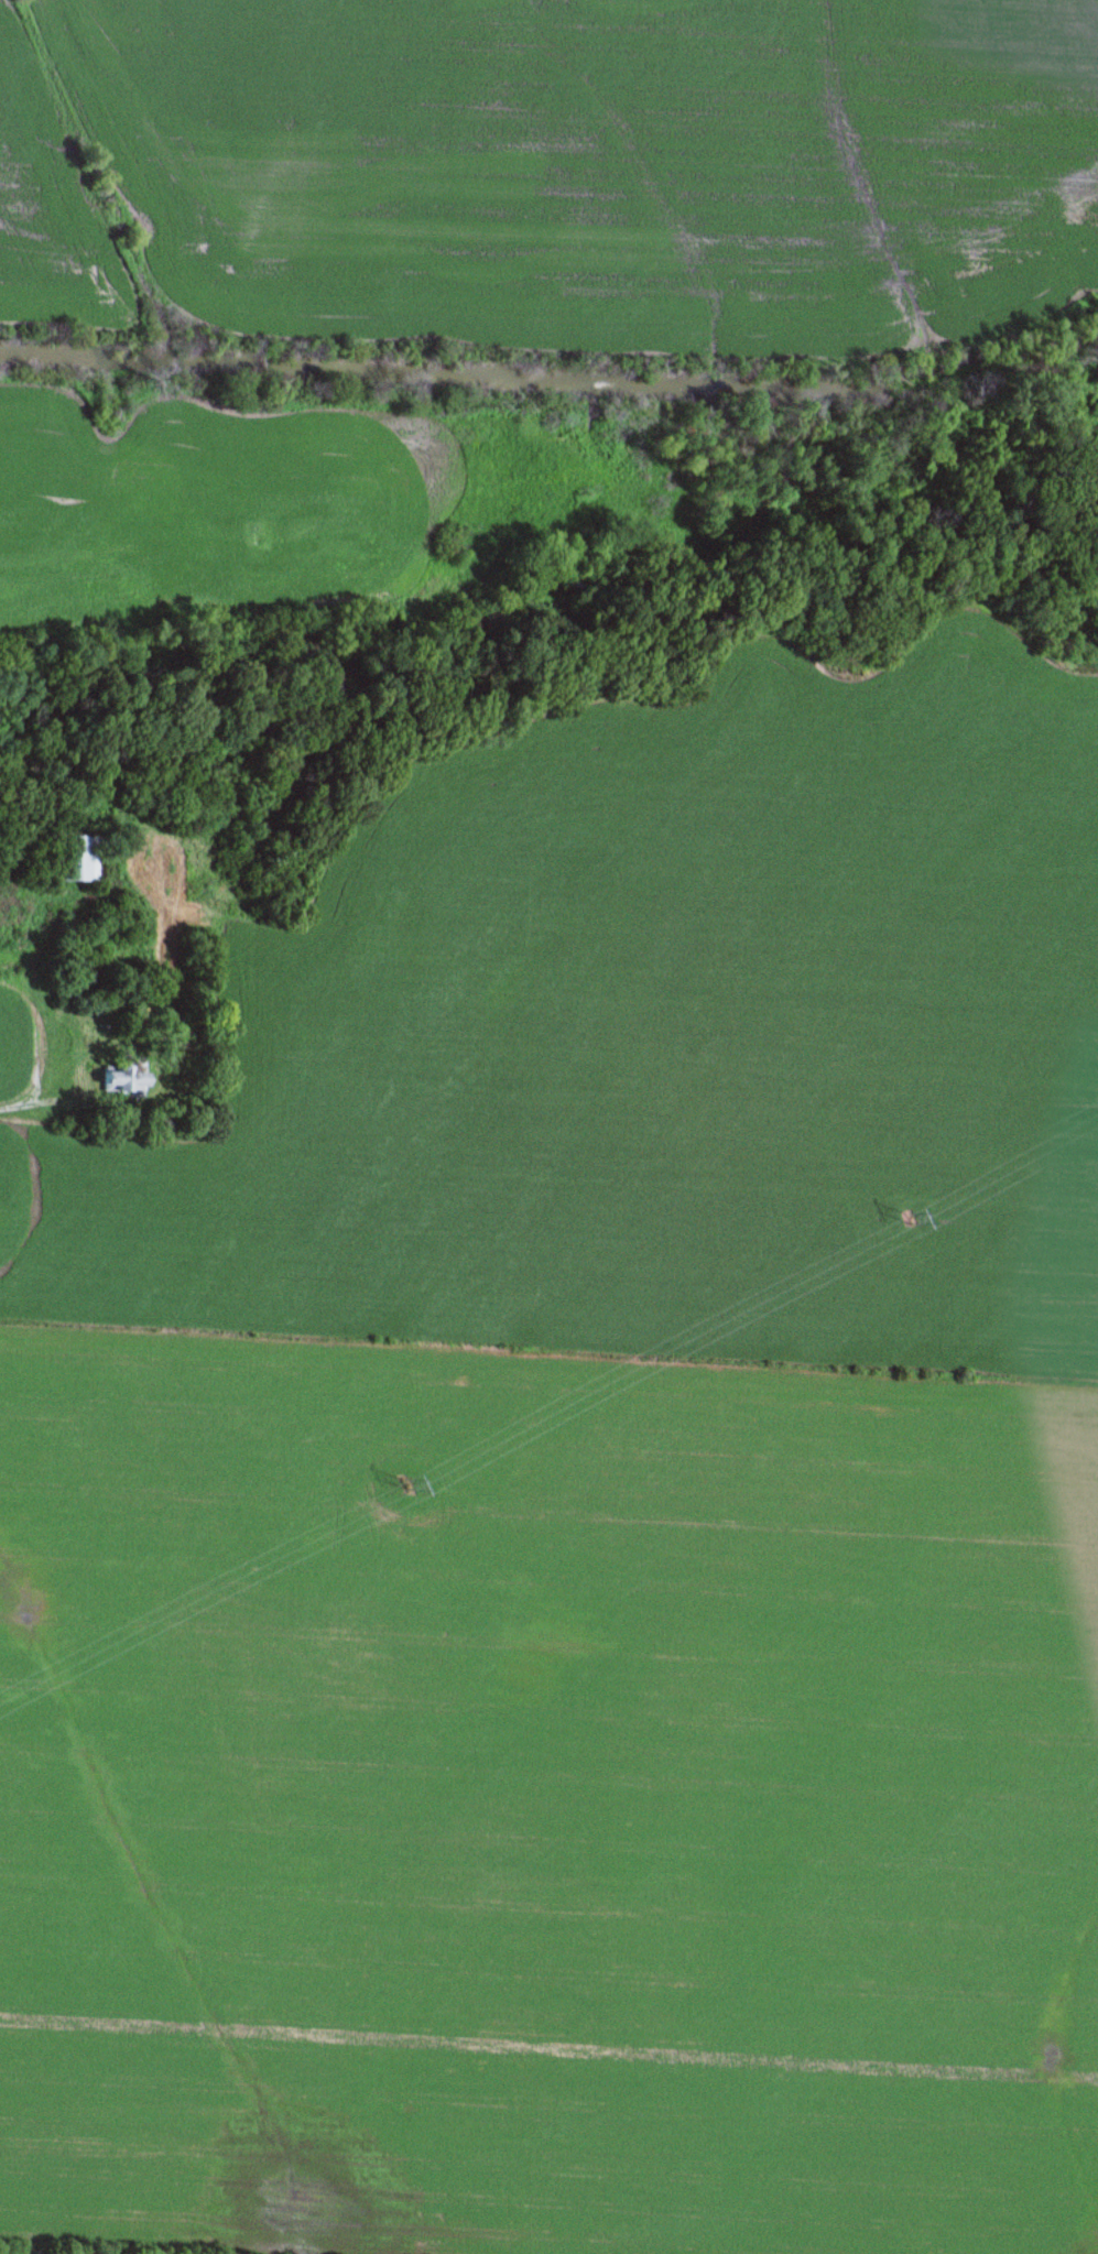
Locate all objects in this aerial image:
building: (84, 857)
building: (123, 1079)
road: (21, 1106)
power tower: (903, 1219)
power tower: (400, 1487)

